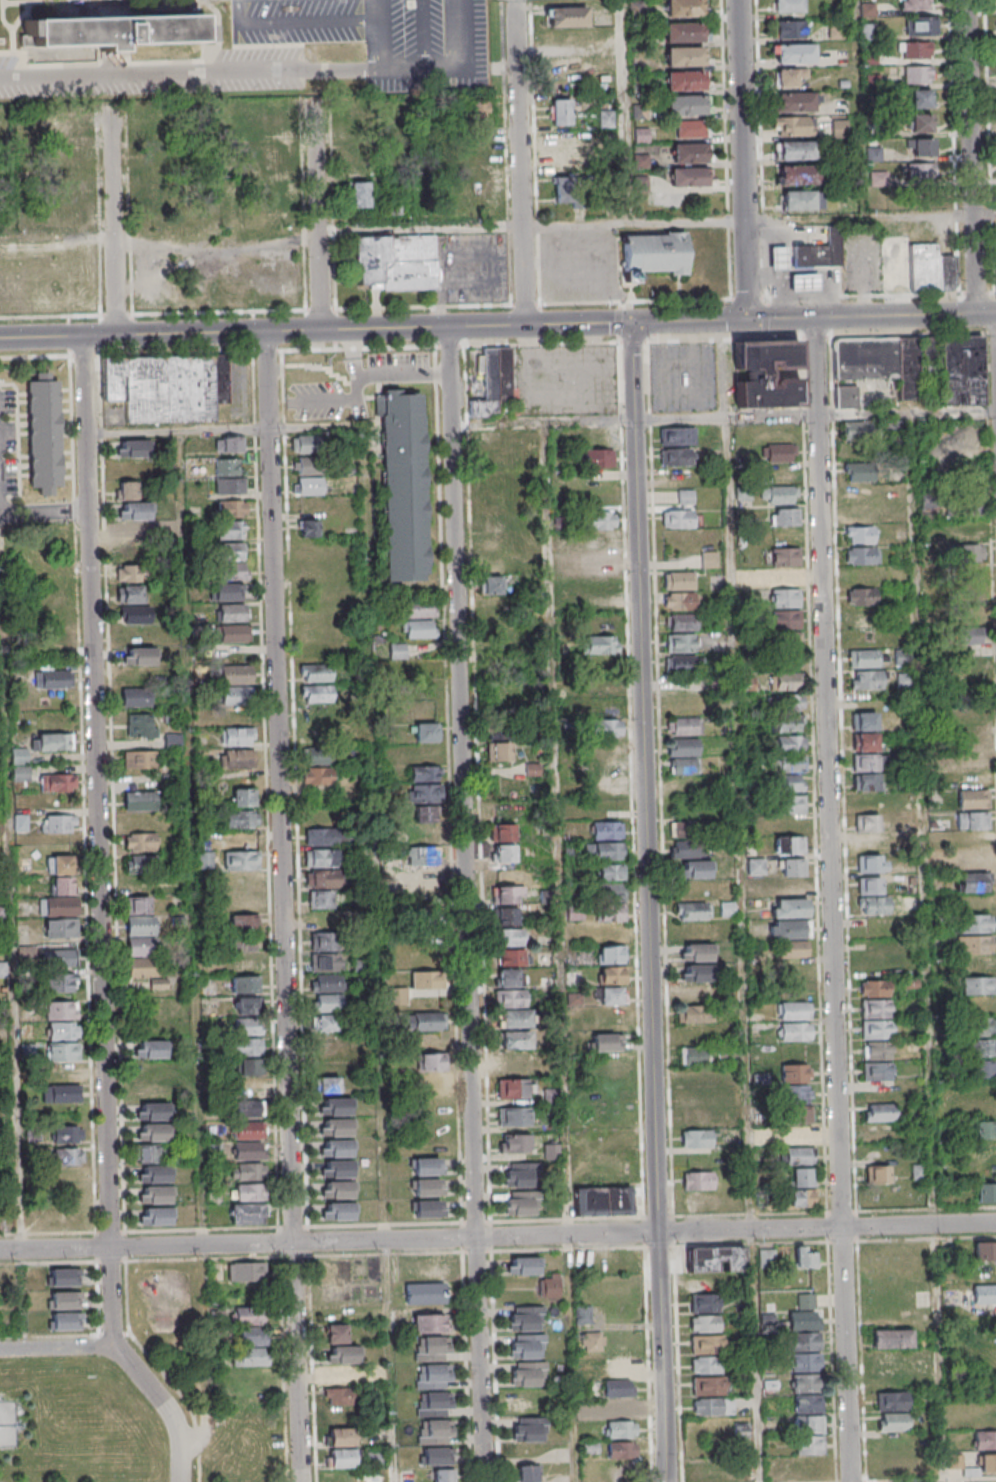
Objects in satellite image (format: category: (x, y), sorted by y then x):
road: (41, 1)
building: (916, 5)
road: (142, 6)
building: (789, 6)
building: (687, 8)
road: (84, 9)
building: (639, 9)
road: (28, 10)
building: (872, 10)
building: (567, 16)
road: (19, 18)
road: (8, 25)
road: (302, 25)
building: (924, 27)
building: (790, 29)
building: (114, 31)
building: (839, 31)
building: (871, 32)
road: (423, 33)
building: (687, 34)
road: (267, 45)
road: (205, 49)
road: (570, 50)
parking lot: (299, 51)
building: (920, 51)
building: (795, 53)
road: (20, 55)
building: (688, 59)
building: (873, 60)
road: (150, 61)
road: (420, 67)
road: (378, 68)
road: (184, 71)
building: (921, 75)
building: (789, 77)
building: (876, 82)
building: (688, 83)
building: (924, 100)
building: (795, 102)
building: (689, 107)
building: (845, 107)
building: (562, 111)
road: (625, 111)
building: (478, 113)
building: (607, 117)
building: (273, 118)
building: (359, 118)
building: (924, 124)
building: (793, 125)
building: (65, 127)
building: (696, 129)
building: (875, 130)
building: (843, 131)
building: (924, 148)
building: (563, 150)
building: (795, 150)
building: (478, 152)
road: (505, 152)
building: (877, 154)
building: (695, 155)
building: (273, 156)
road: (975, 156)
road: (747, 159)
road: (725, 160)
road: (521, 163)
building: (923, 172)
building: (799, 174)
building: (692, 179)
building: (882, 180)
building: (479, 190)
building: (568, 192)
building: (360, 194)
building: (274, 196)
building: (161, 198)
building: (800, 200)
building: (67, 204)
road: (316, 215)
road: (656, 222)
road: (113, 224)
building: (822, 253)
building: (657, 257)
building: (782, 260)
building: (395, 263)
parking lot: (583, 266)
building: (915, 266)
road: (587, 277)
road: (444, 283)
building: (807, 285)
road: (50, 315)
road: (873, 315)
traffic signals: (751, 319)
road: (693, 321)
traffic signals: (635, 323)
road: (317, 331)
road: (357, 354)
building: (889, 363)
building: (961, 370)
building: (766, 374)
road: (365, 377)
building: (496, 383)
building: (164, 388)
building: (846, 396)
road: (772, 418)
road: (502, 426)
building: (856, 430)
road: (226, 431)
building: (44, 433)
building: (677, 435)
building: (490, 441)
building: (229, 444)
building: (305, 444)
building: (132, 448)
building: (779, 452)
building: (677, 457)
building: (599, 458)
building: (306, 465)
building: (129, 469)
building: (858, 472)
building: (227, 475)
building: (494, 480)
building: (404, 484)
building: (307, 486)
building: (127, 490)
building: (779, 494)
building: (496, 502)
building: (972, 503)
building: (231, 508)
building: (134, 511)
building: (681, 511)
road: (23, 512)
building: (785, 516)
building: (601, 520)
building: (497, 523)
building: (309, 527)
building: (231, 530)
building: (134, 531)
building: (967, 531)
building: (860, 534)
building: (598, 541)
building: (494, 544)
building: (230, 551)
building: (132, 552)
building: (969, 552)
building: (784, 556)
building: (861, 556)
building: (708, 558)
building: (599, 562)
building: (233, 571)
building: (131, 573)
building: (768, 577)
building: (678, 580)
building: (972, 583)
building: (493, 585)
building: (225, 591)
building: (129, 594)
building: (54, 596)
building: (861, 596)
building: (785, 598)
building: (678, 601)
building: (604, 603)
building: (420, 608)
building: (231, 613)
building: (137, 615)
building: (863, 617)
building: (786, 619)
building: (680, 622)
building: (420, 629)
building: (232, 634)
building: (966, 634)
building: (56, 639)
building: (681, 642)
building: (600, 644)
building: (788, 649)
building: (397, 652)
building: (139, 656)
building: (905, 657)
building: (866, 658)
building: (680, 664)
building: (312, 674)
building: (236, 675)
building: (51, 680)
building: (788, 680)
building: (865, 680)
building: (605, 686)
building: (318, 695)
building: (234, 696)
building: (135, 698)
building: (790, 702)
building: (864, 721)
building: (790, 723)
building: (684, 725)
building: (140, 726)
building: (607, 727)
building: (500, 731)
building: (426, 732)
building: (238, 736)
building: (973, 740)
building: (51, 742)
building: (864, 742)
building: (791, 743)
building: (500, 753)
building: (318, 755)
building: (683, 755)
building: (236, 758)
building: (140, 759)
building: (973, 759)
building: (19, 765)
building: (788, 772)
building: (866, 772)
building: (424, 773)
road: (741, 775)
building: (317, 776)
building: (972, 779)
building: (58, 782)
building: (425, 793)
building: (243, 797)
building: (972, 799)
building: (139, 800)
building: (791, 804)
building: (424, 815)
building: (241, 819)
building: (972, 820)
building: (20, 822)
building: (58, 822)
building: (866, 822)
building: (319, 826)
building: (684, 828)
building: (605, 830)
building: (503, 832)
road: (193, 839)
building: (140, 841)
road: (96, 843)
building: (789, 844)
building: (686, 849)
building: (607, 850)
building: (972, 851)
building: (504, 853)
building: (423, 857)
building: (321, 858)
building: (872, 863)
building: (59, 864)
building: (755, 866)
building: (696, 869)
building: (608, 872)
building: (138, 873)
building: (791, 876)
building: (242, 879)
building: (321, 879)
road: (10, 880)
building: (973, 882)
building: (61, 885)
building: (508, 894)
building: (544, 896)
building: (320, 899)
road: (835, 899)
building: (609, 902)
road: (653, 902)
road: (470, 904)
building: (57, 906)
building: (138, 906)
road: (287, 906)
building: (789, 907)
building: (727, 908)
building: (693, 911)
building: (506, 916)
building: (425, 920)
building: (321, 921)
building: (244, 923)
building: (975, 923)
building: (140, 926)
building: (60, 928)
building: (787, 929)
building: (509, 936)
building: (324, 941)
building: (244, 943)
building: (975, 944)
building: (140, 948)
road: (928, 948)
building: (793, 949)
building: (696, 952)
road: (560, 953)
building: (513, 957)
building: (60, 958)
building: (424, 959)
building: (326, 961)
building: (245, 963)
building: (611, 964)
building: (2, 970)
building: (794, 970)
building: (696, 973)
building: (146, 974)
building: (509, 977)
building: (573, 978)
building: (425, 980)
building: (61, 983)
building: (328, 983)
building: (244, 984)
building: (977, 985)
building: (874, 988)
building: (691, 994)
building: (397, 995)
building: (609, 996)
building: (510, 998)
building: (326, 1002)
building: (245, 1005)
building: (61, 1010)
building: (795, 1010)
building: (694, 1014)
building: (876, 1019)
building: (428, 1021)
building: (326, 1023)
building: (247, 1026)
building: (983, 1027)
building: (795, 1031)
building: (515, 1040)
building: (63, 1041)
building: (607, 1042)
road: (381, 1044)
building: (246, 1046)
building: (326, 1046)
building: (981, 1047)
building: (150, 1050)
building: (877, 1050)
building: (706, 1055)
building: (431, 1061)
building: (249, 1066)
building: (983, 1069)
building: (877, 1071)
building: (63, 1072)
building: (432, 1083)
building: (327, 1084)
building: (250, 1088)
building: (515, 1088)
building: (146, 1090)
building: (796, 1093)
building: (63, 1094)
building: (335, 1106)
building: (248, 1109)
building: (151, 1111)
building: (879, 1112)
building: (513, 1116)
building: (695, 1117)
building: (336, 1127)
building: (985, 1129)
building: (249, 1130)
building: (152, 1132)
building: (881, 1133)
building: (67, 1134)
building: (697, 1138)
building: (515, 1143)
building: (798, 1145)
building: (336, 1148)
building: (249, 1150)
building: (550, 1151)
building: (147, 1153)
building: (68, 1156)
building: (427, 1166)
building: (336, 1169)
building: (248, 1171)
building: (918, 1172)
building: (153, 1173)
building: (520, 1174)
building: (878, 1174)
building: (802, 1177)
building: (697, 1180)
building: (427, 1187)
building: (337, 1189)
building: (985, 1191)
building: (250, 1192)
building: (154, 1194)
building: (802, 1198)
building: (602, 1201)
building: (522, 1203)
building: (428, 1208)
building: (338, 1211)
building: (246, 1213)
building: (155, 1215)
road: (292, 1226)
road: (200, 1228)
road: (109, 1231)
road: (47, 1232)
road: (497, 1236)
building: (984, 1250)
building: (804, 1256)
building: (766, 1257)
building: (715, 1259)
road: (48, 1262)
building: (522, 1265)
building: (246, 1271)
building: (61, 1277)
building: (983, 1283)
building: (549, 1286)
building: (425, 1294)
building: (62, 1300)
building: (703, 1302)
building: (583, 1314)
building: (246, 1315)
park: (171, 1317)
building: (524, 1318)
building: (63, 1320)
building: (704, 1323)
building: (429, 1324)
building: (336, 1334)
building: (252, 1336)
building: (889, 1338)
building: (592, 1340)
building: (705, 1344)
building: (527, 1345)
building: (431, 1351)
road: (55, 1352)
building: (342, 1355)
road: (757, 1356)
building: (249, 1357)
building: (889, 1359)
building: (705, 1365)
building: (619, 1366)
building: (526, 1373)
building: (336, 1376)
building: (432, 1376)
building: (805, 1377)
building: (890, 1380)
building: (708, 1385)
building: (618, 1388)
building: (337, 1396)
building: (524, 1399)
building: (890, 1401)
building: (433, 1404)
building: (711, 1406)
road: (162, 1408)
building: (618, 1409)
building: (890, 1422)
building: (527, 1429)
building: (620, 1429)
building: (739, 1430)
building: (433, 1431)
building: (341, 1437)
building: (983, 1439)
building: (620, 1449)
building: (435, 1456)
building: (341, 1458)
building: (371, 1459)
building: (952, 1461)
building: (986, 1463)
building: (708, 1468)
building: (526, 1473)
building: (441, 1475)
building: (404, 1476)
road: (877, 1479)

